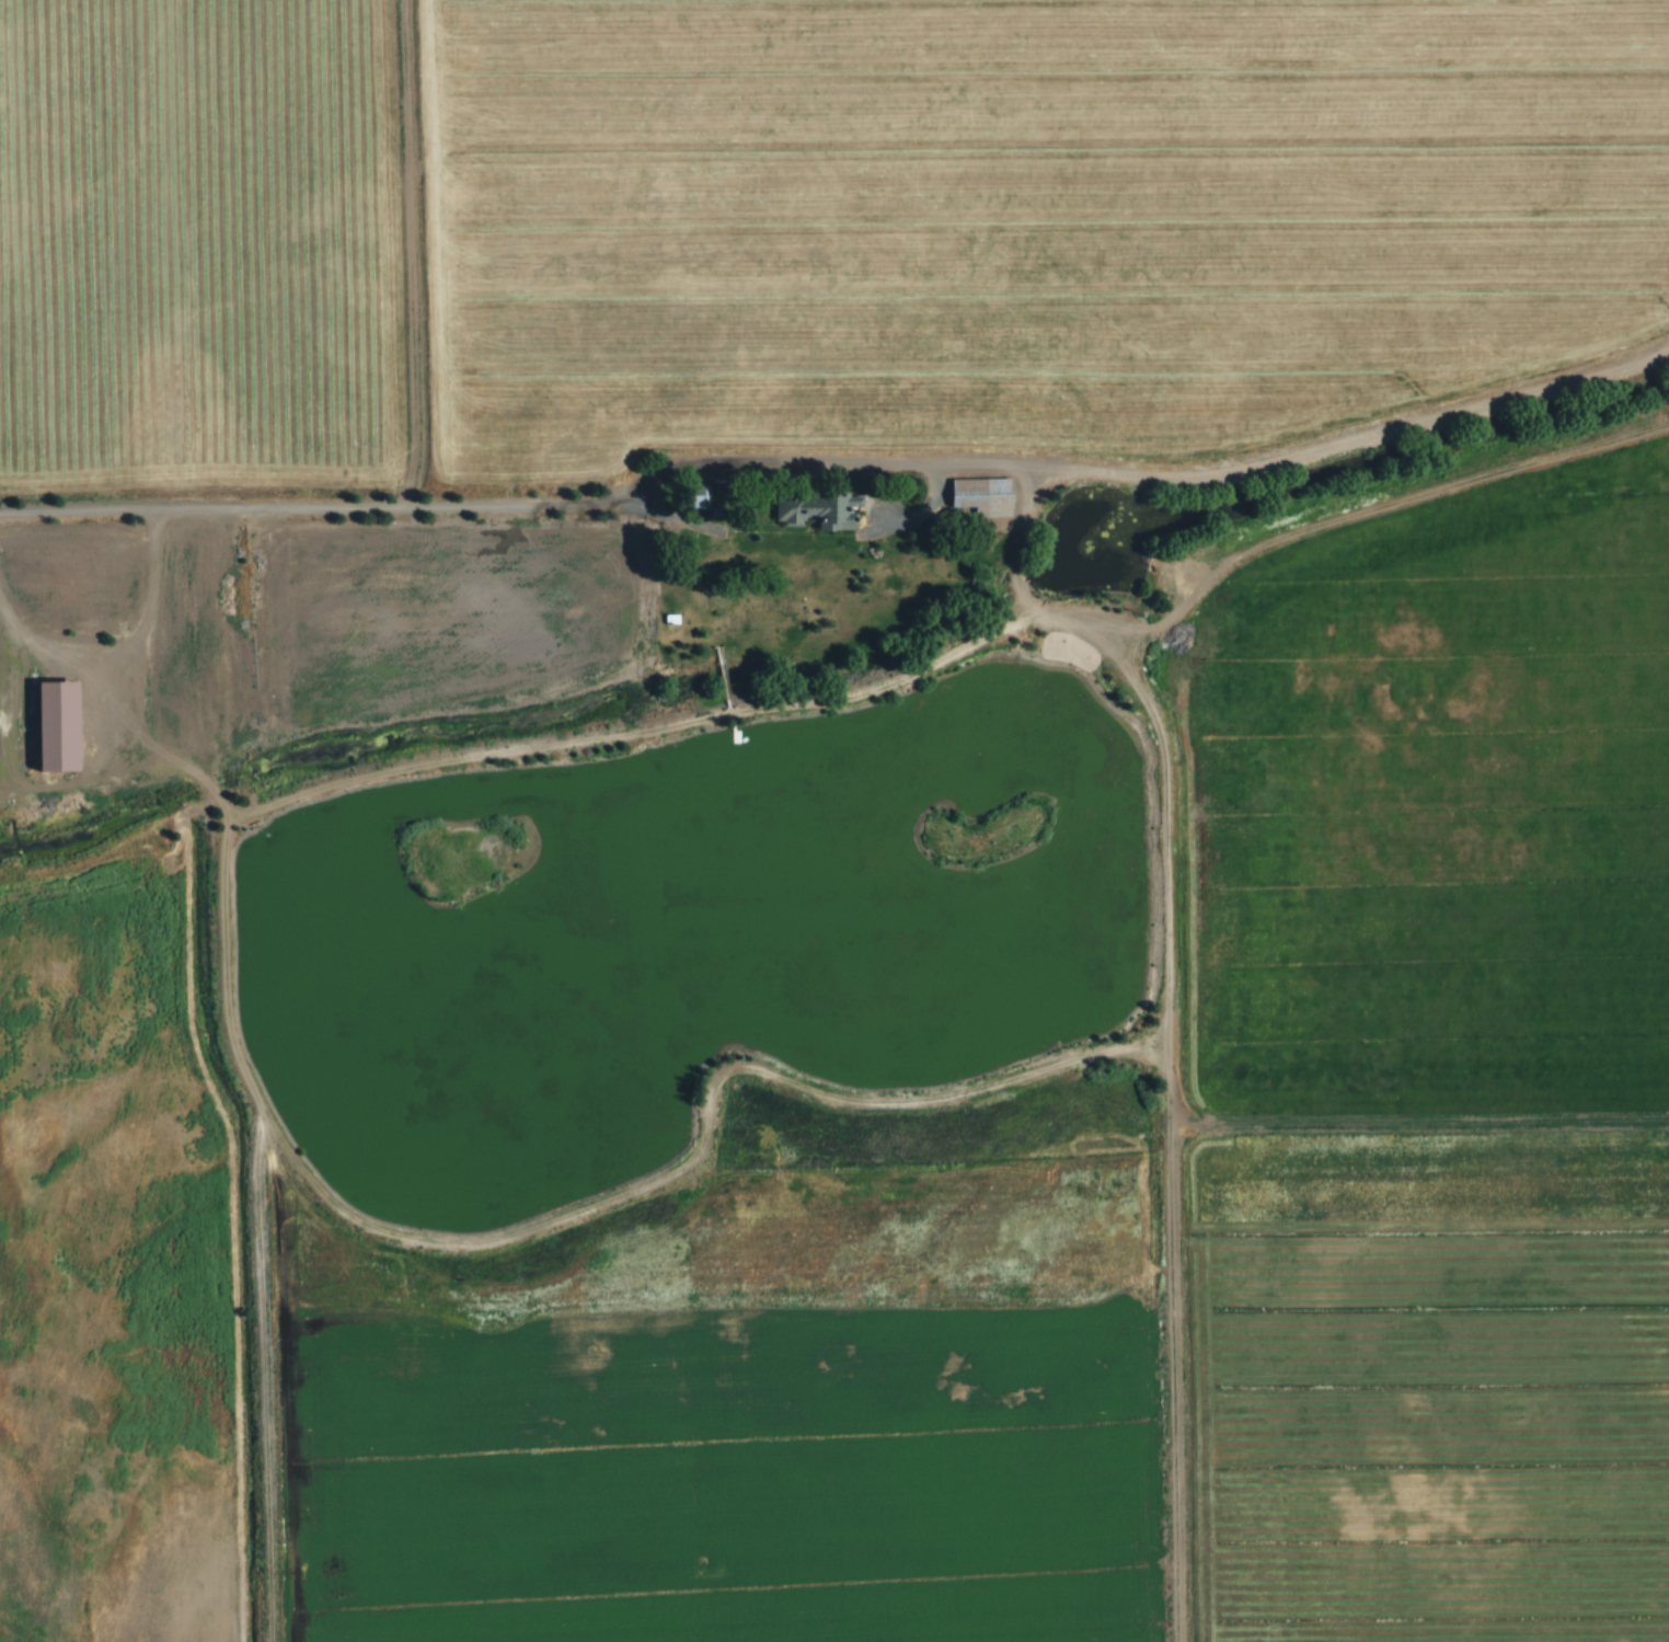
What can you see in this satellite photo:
crop: (1032, 220)
crop: (209, 244)
building: (705, 493)
building: (993, 497)
road: (599, 505)
building: (832, 509)
road: (1368, 516)
crop: (464, 611)
building: (686, 619)
road: (74, 653)
building: (68, 724)
road: (642, 732)
crop: (1442, 812)
road: (1181, 1090)
road: (433, 1242)
crop: (125, 1256)
road: (267, 1370)
crop: (945, 1373)
crop: (1438, 1383)
crop: (484, 1433)

